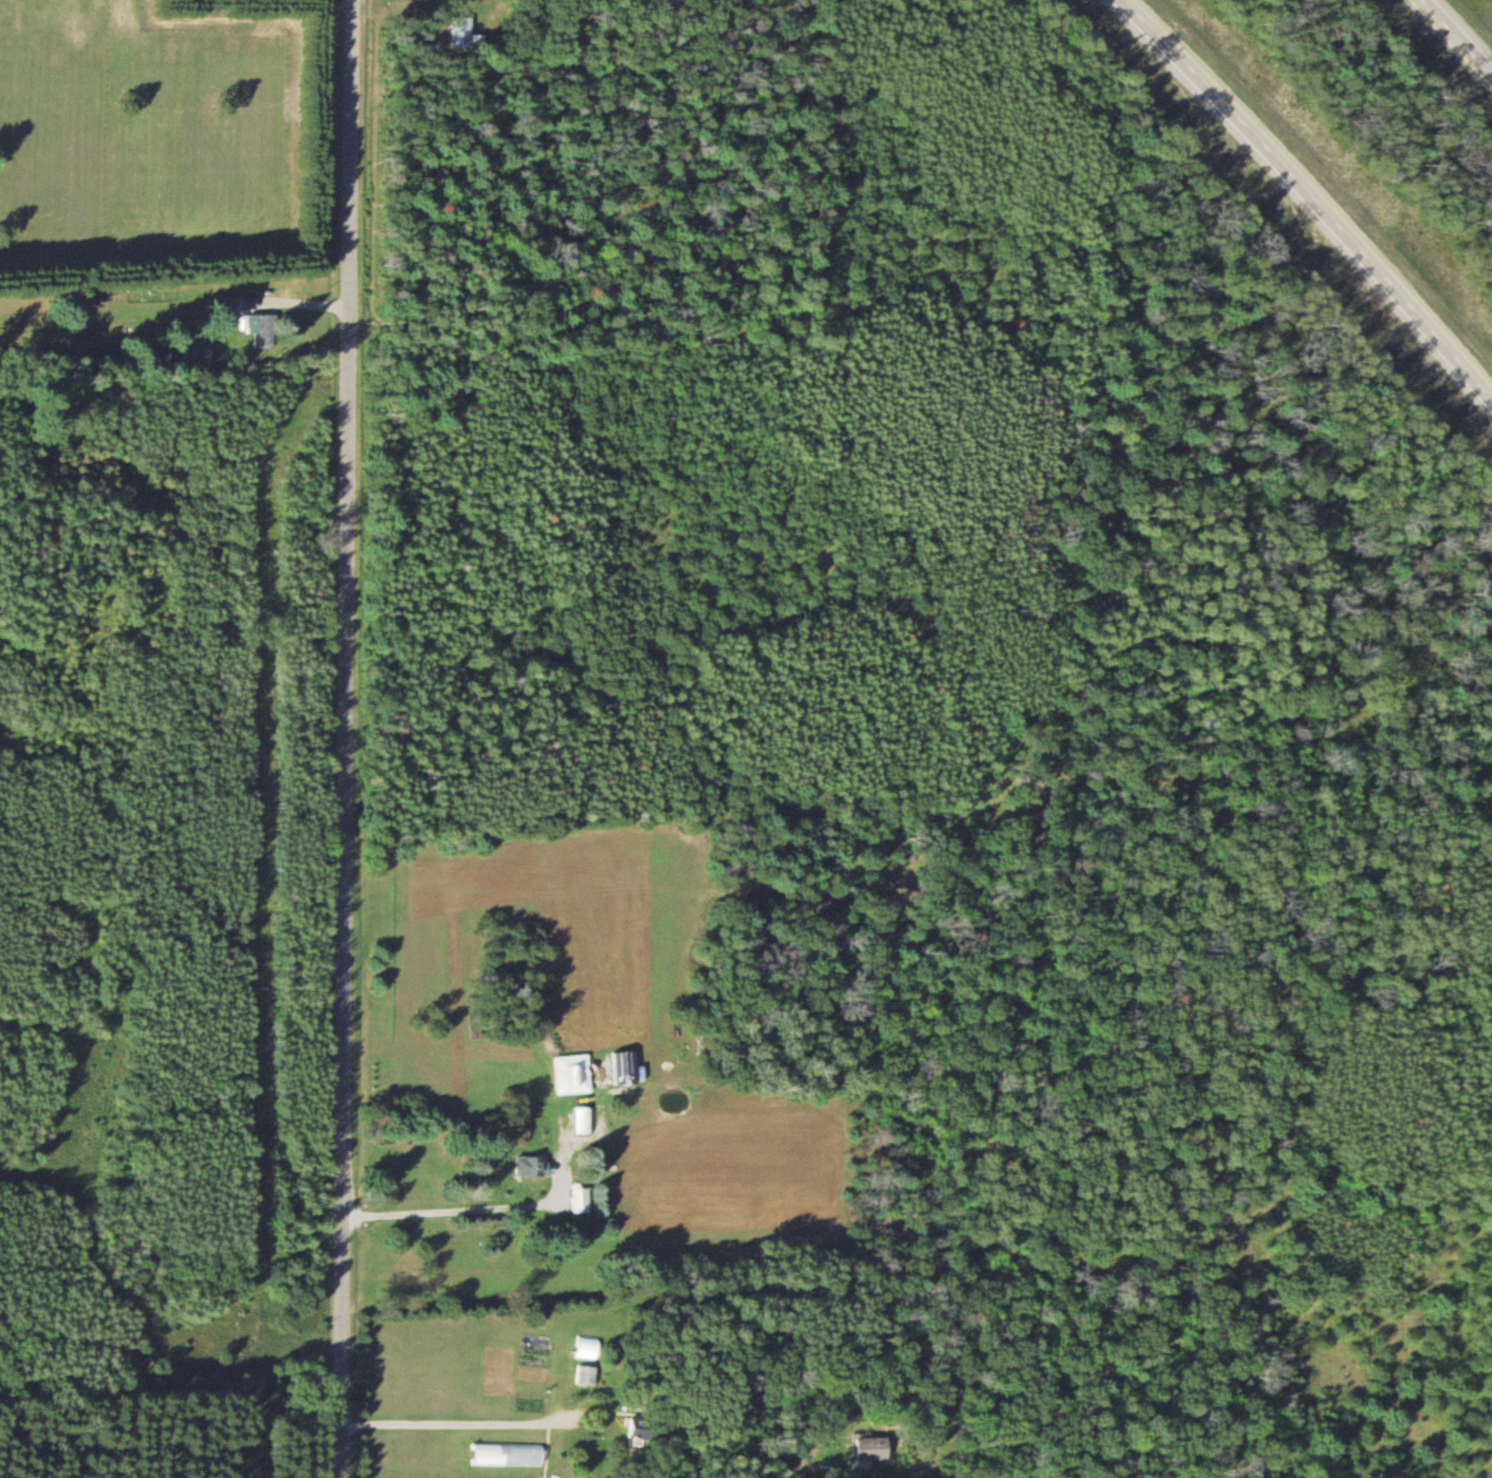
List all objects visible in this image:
building: (451, 30)
road: (1456, 37)
road: (1306, 200)
building: (263, 330)
road: (347, 739)
building: (574, 1074)
building: (582, 1118)
building: (533, 1165)
building: (581, 1198)
building: (535, 1342)
building: (534, 1373)
building: (588, 1373)
building: (499, 1374)
building: (863, 1447)
building: (510, 1453)
building: (505, 1477)

